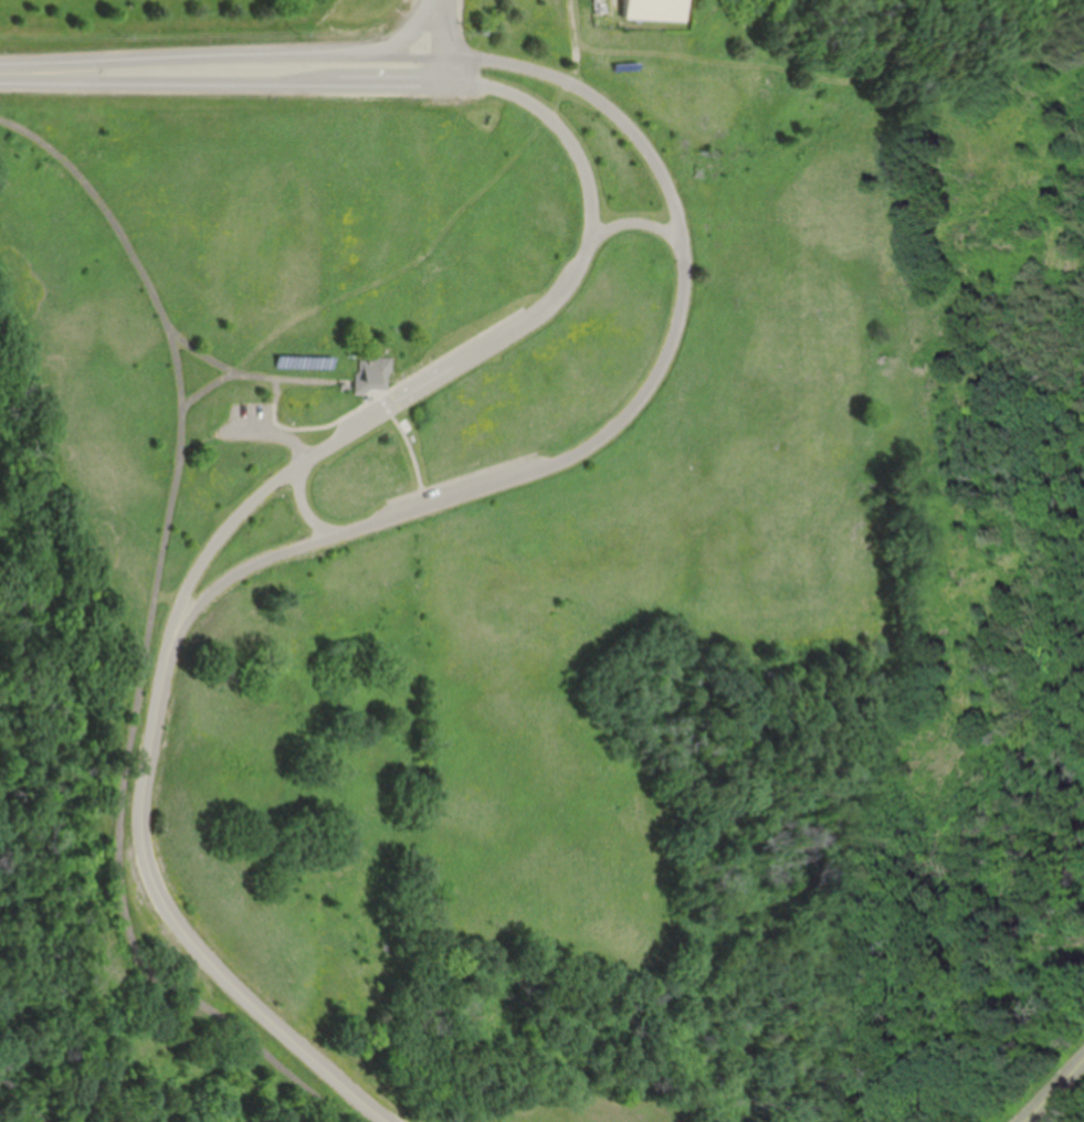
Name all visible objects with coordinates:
building: (651, 10)
park: (209, 14)
road: (445, 40)
road: (400, 41)
road: (222, 59)
road: (222, 80)
road: (636, 224)
road: (464, 236)
road: (194, 349)
road: (475, 358)
building: (303, 361)
building: (376, 378)
road: (294, 383)
road: (208, 391)
road: (388, 394)
road: (631, 414)
road: (413, 448)
road: (304, 505)
park: (551, 576)
road: (146, 637)
road: (177, 918)
road: (1054, 1091)
road: (1069, 1107)

